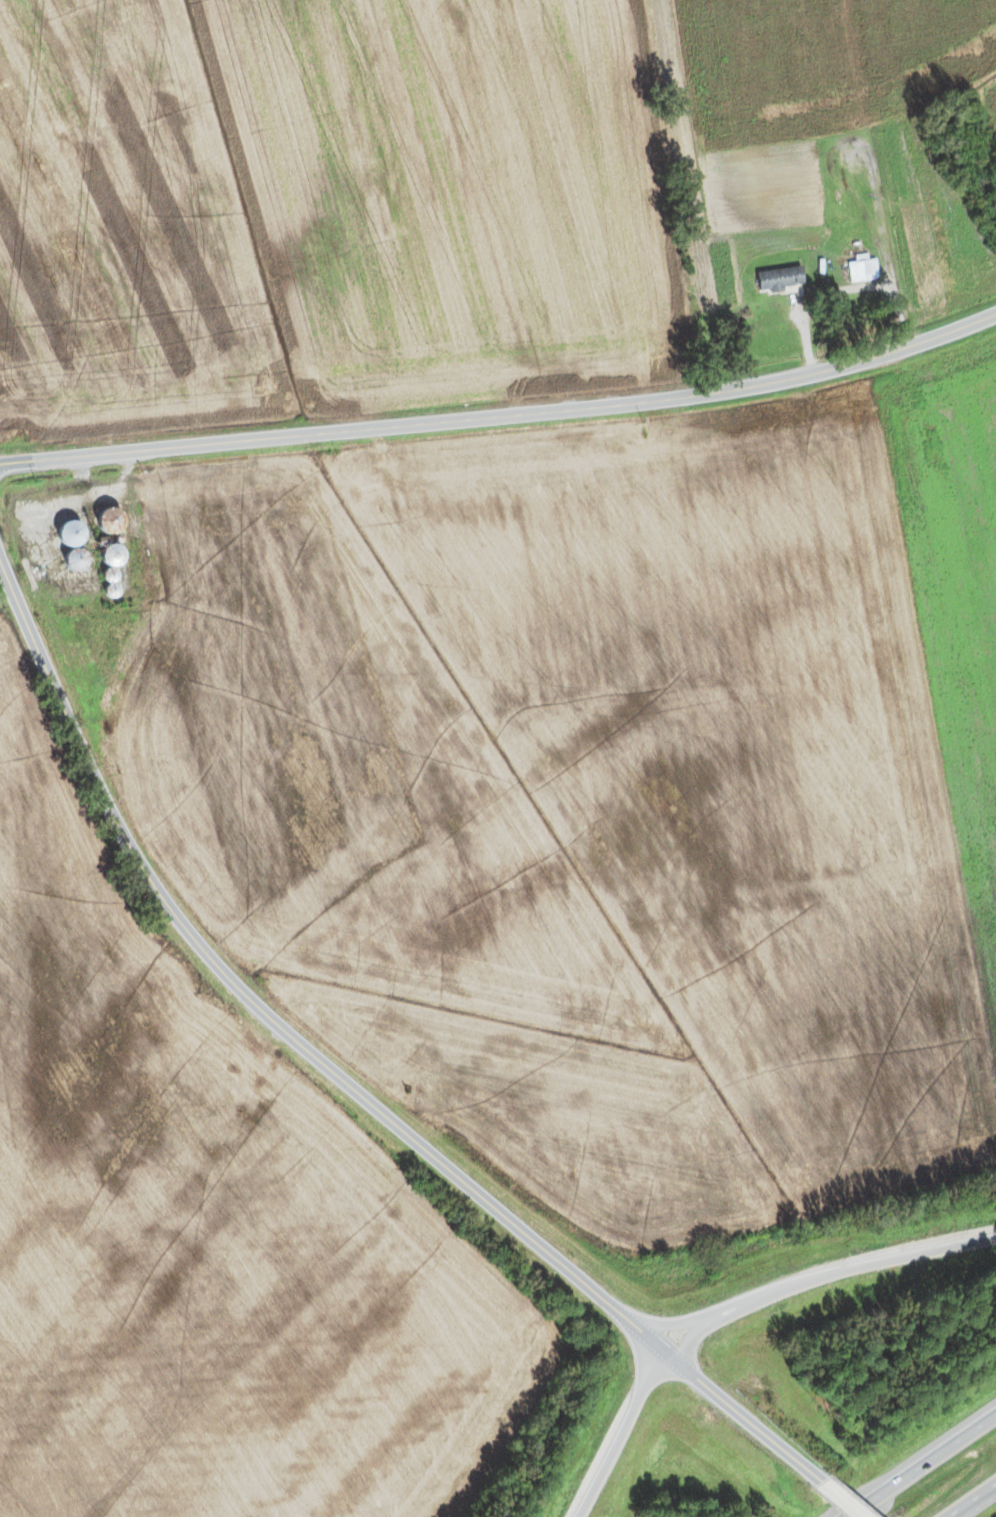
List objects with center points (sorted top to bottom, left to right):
building: (841, 185)
building: (859, 270)
building: (779, 278)
road: (503, 415)
building: (108, 521)
building: (70, 544)
building: (110, 561)
road: (262, 1011)
road: (824, 1279)
road: (745, 1420)
road: (621, 1434)
road: (932, 1470)
road: (843, 1502)
road: (979, 1506)

